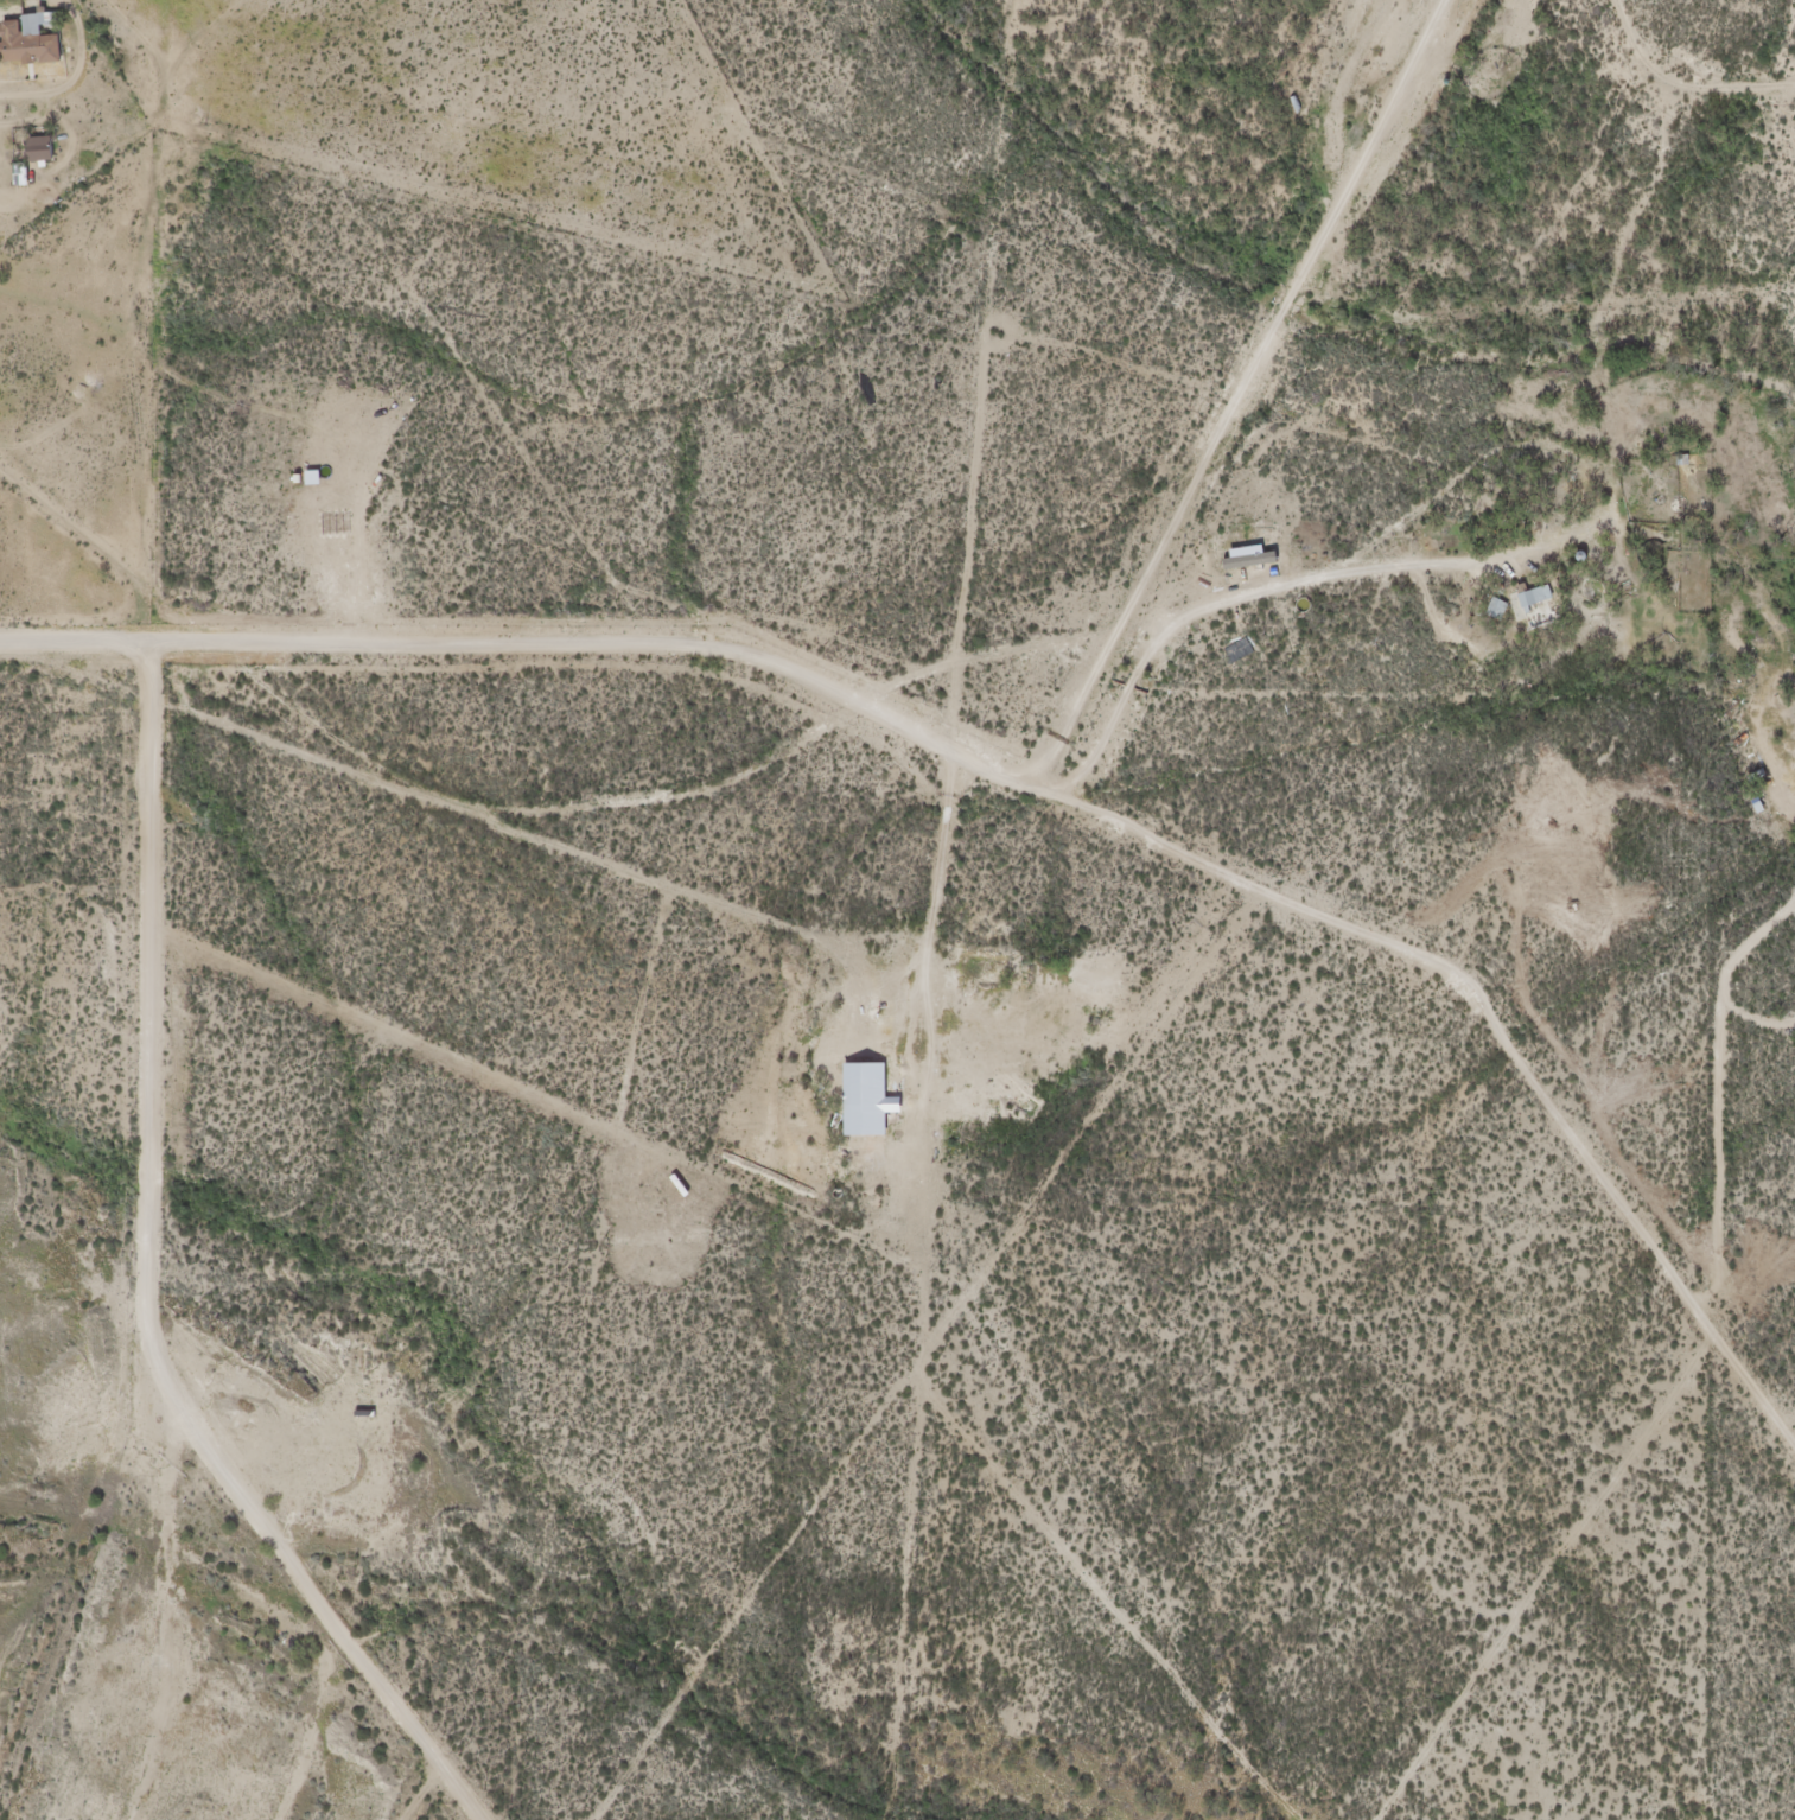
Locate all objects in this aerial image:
road: (1637, 32)
building: (25, 42)
building: (32, 151)
building: (13, 177)
road: (1573, 180)
road: (133, 274)
road: (1602, 390)
building: (1527, 600)
building: (1488, 611)
building: (1233, 653)
road: (963, 757)
road: (778, 761)
building: (1748, 812)
building: (847, 1115)
road: (1720, 1342)

